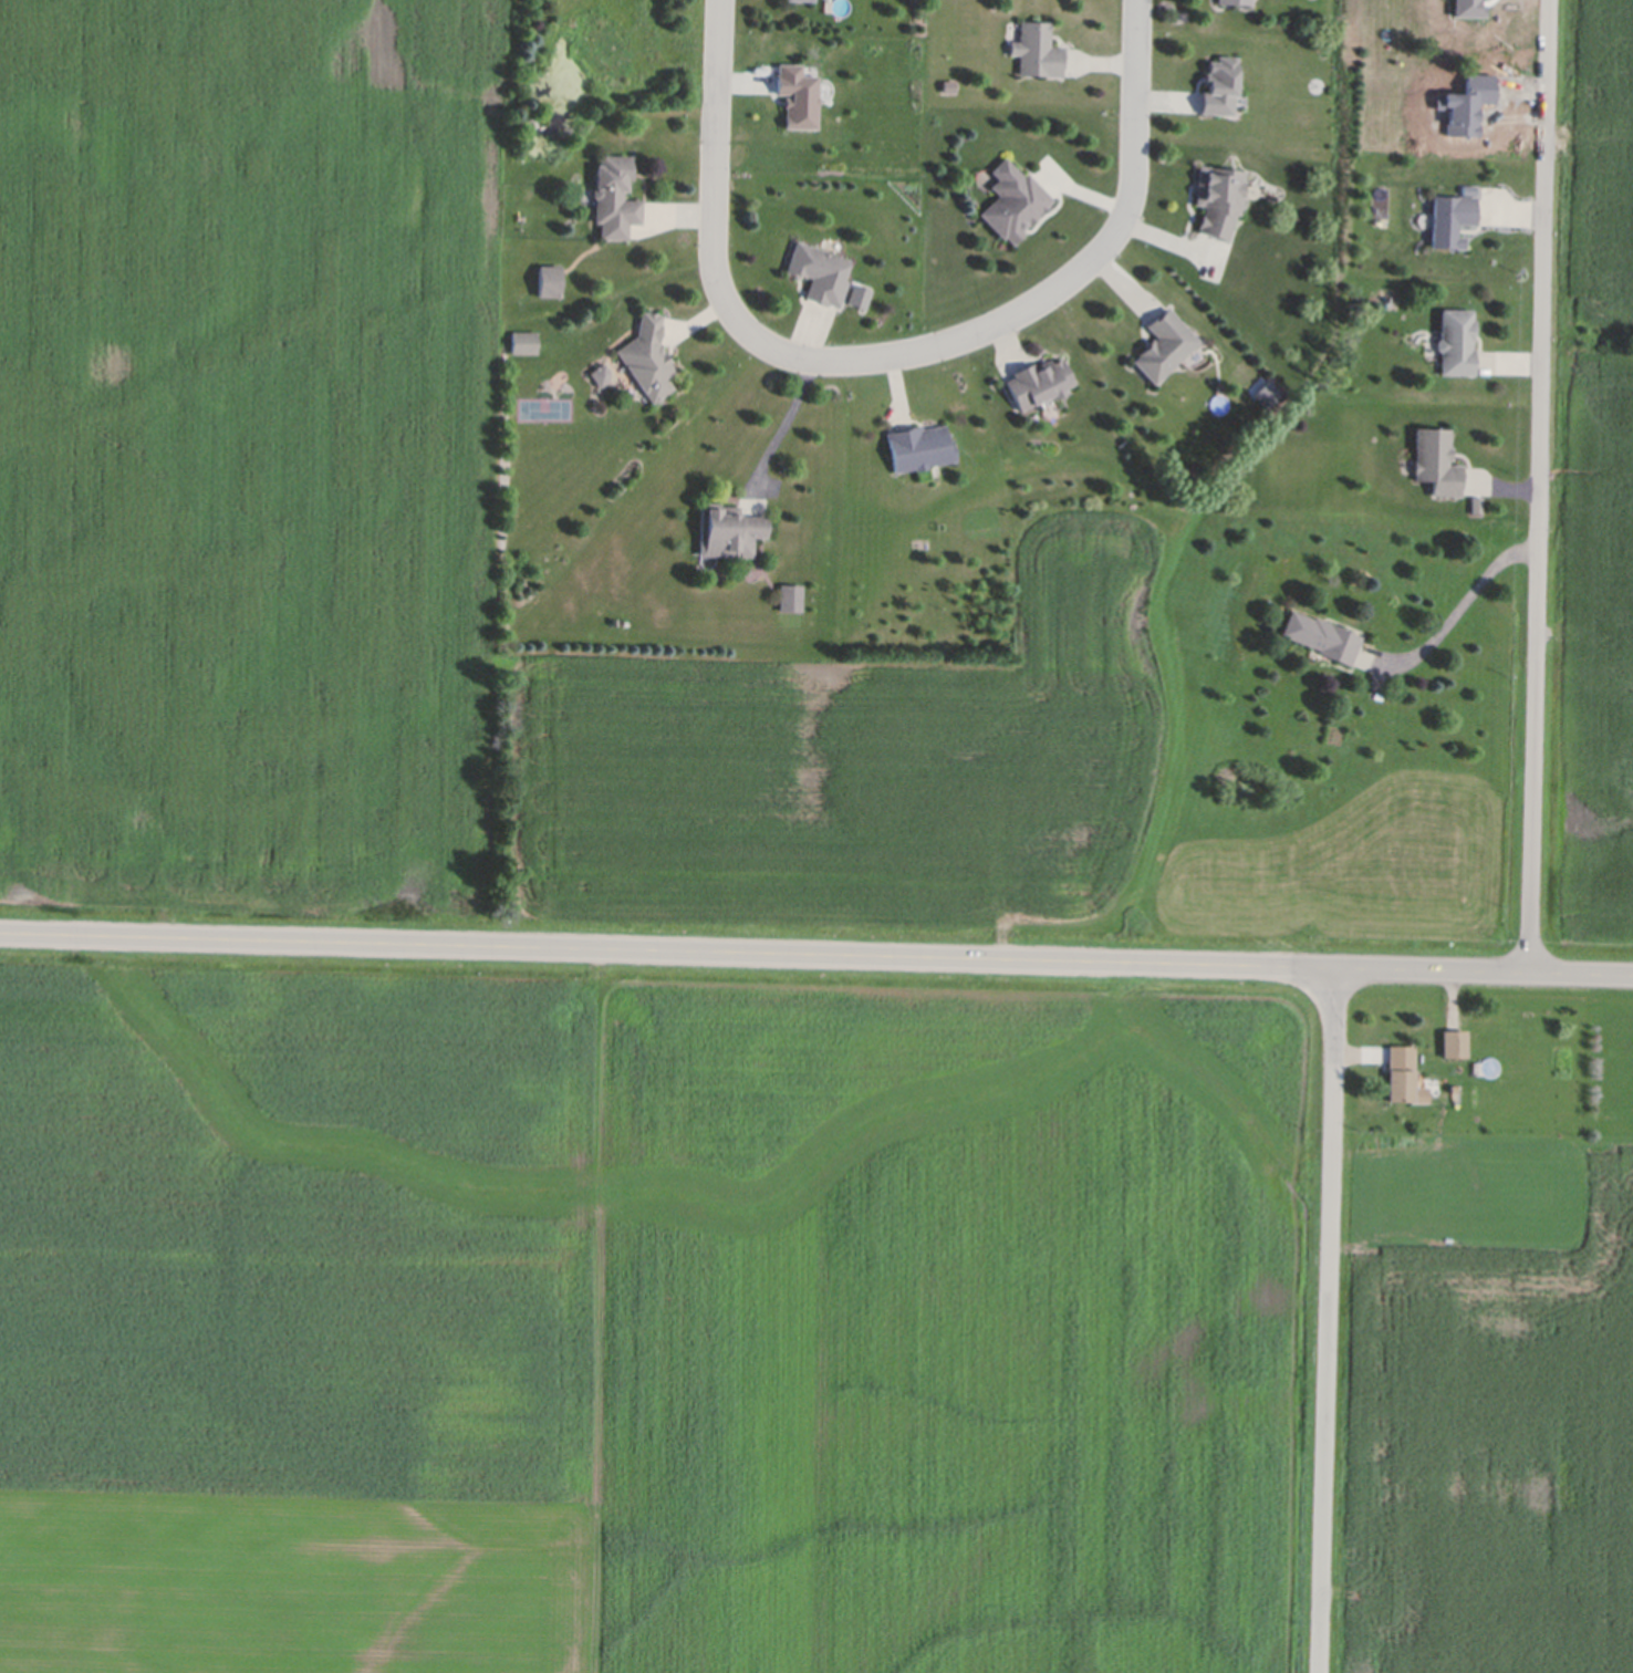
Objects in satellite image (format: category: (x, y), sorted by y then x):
building: (799, 0)
building: (1239, 0)
building: (1037, 48)
building: (1219, 83)
road: (713, 90)
building: (613, 194)
building: (1218, 196)
building: (1012, 198)
building: (1450, 217)
building: (818, 270)
building: (548, 278)
road: (980, 330)
building: (1456, 339)
building: (523, 341)
building: (1163, 342)
building: (647, 356)
building: (600, 372)
building: (1038, 380)
road: (786, 416)
building: (918, 445)
building: (1435, 459)
road: (1537, 487)
building: (728, 528)
building: (790, 596)
road: (1462, 603)
building: (1320, 635)
road: (816, 955)
building: (1454, 1041)
building: (1403, 1074)
road: (1329, 1320)

